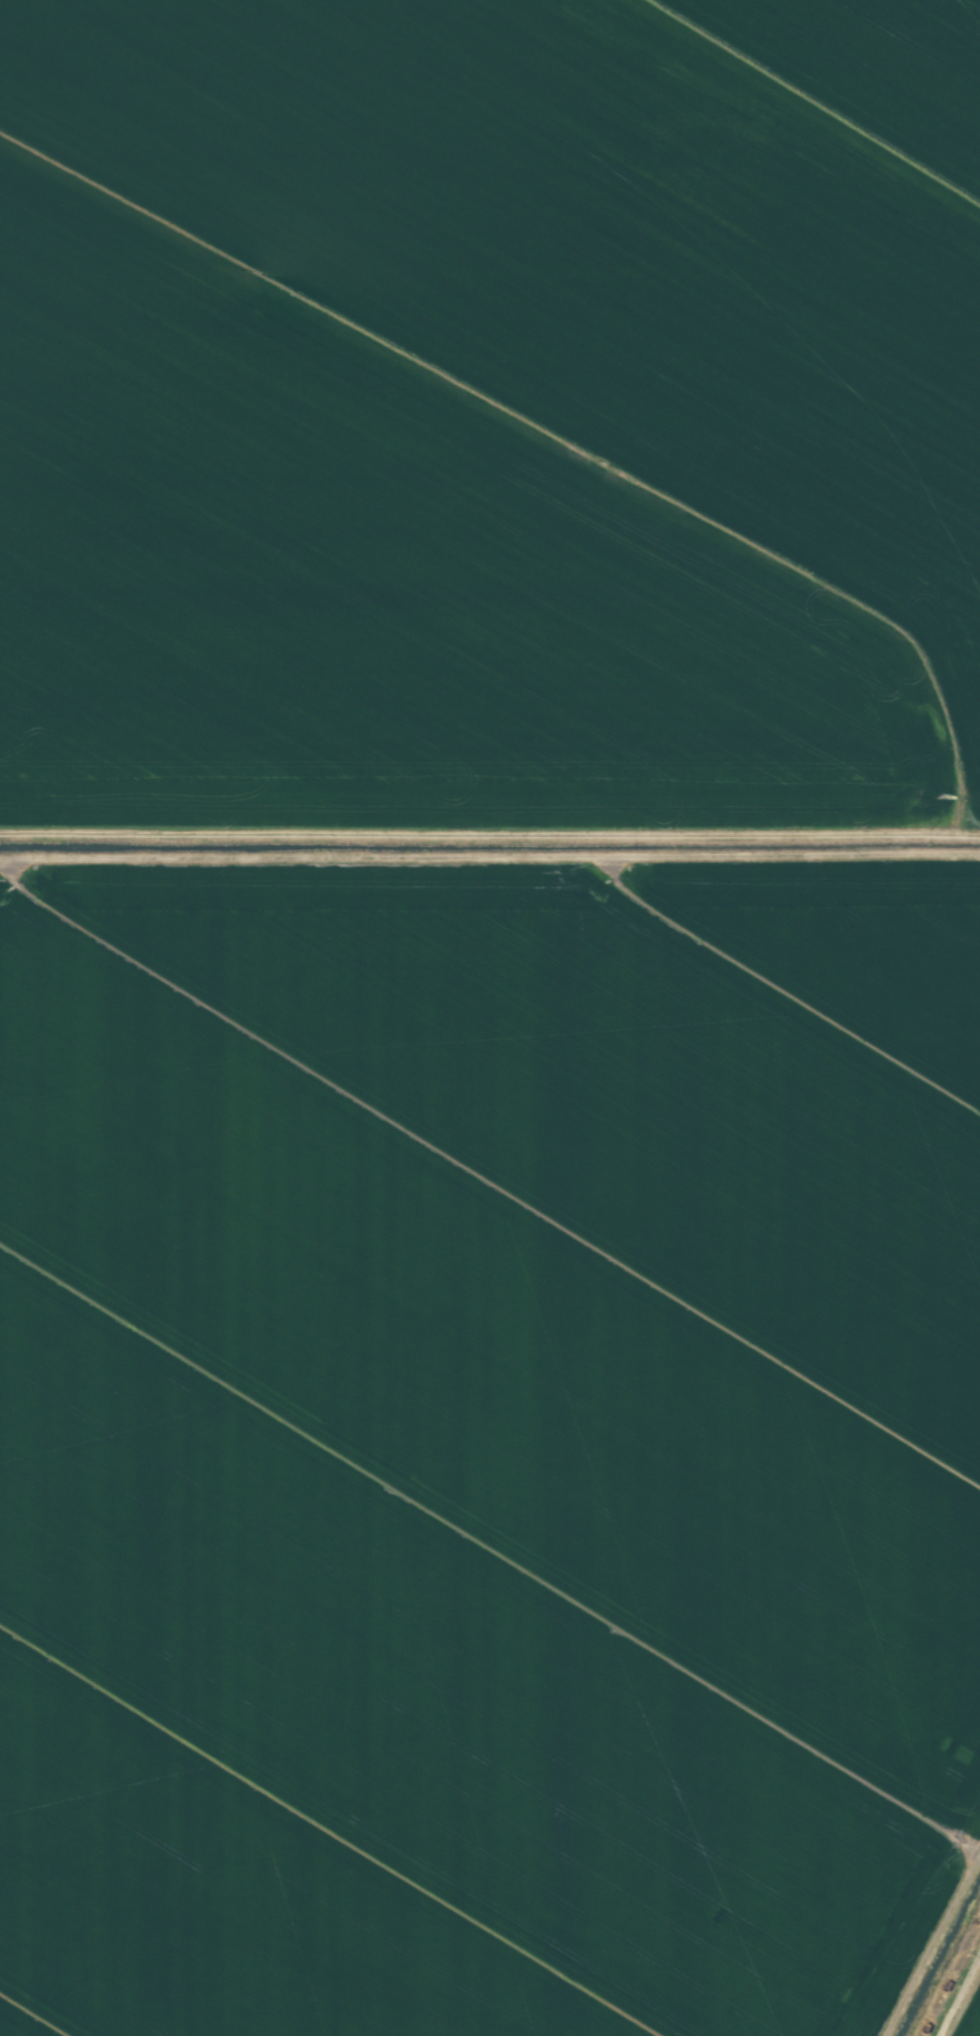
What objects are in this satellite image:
road: (955, 1989)

